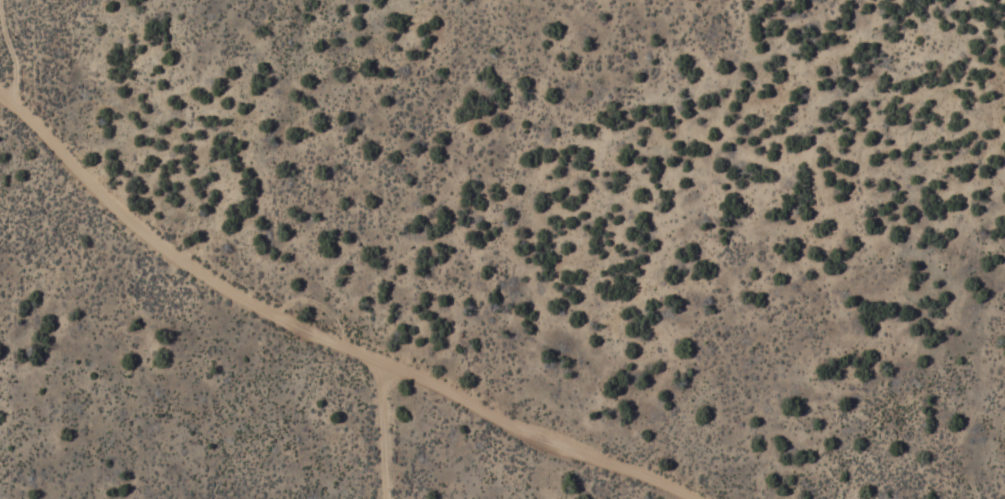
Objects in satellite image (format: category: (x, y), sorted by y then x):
road: (319, 338)
road: (375, 430)

